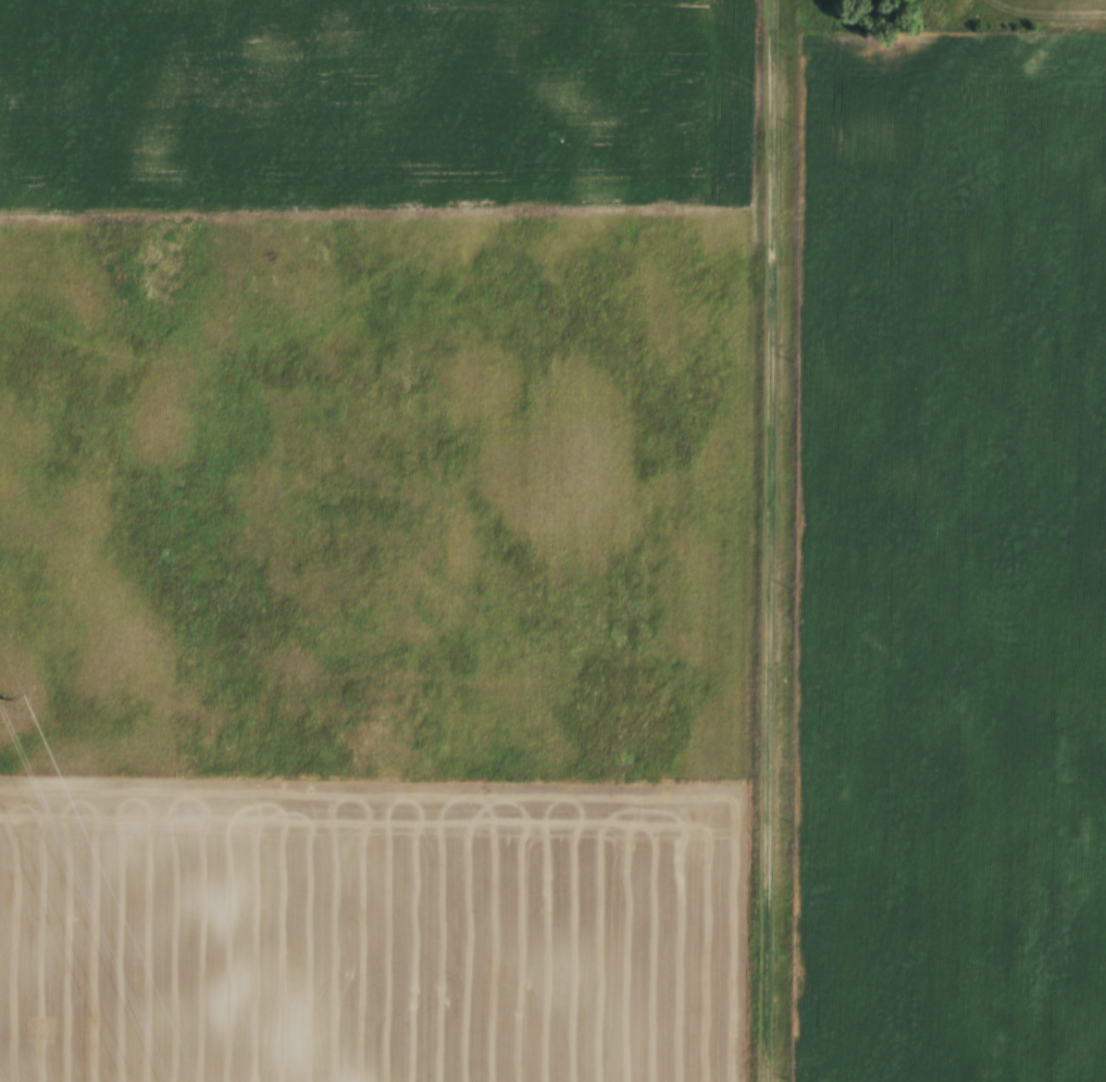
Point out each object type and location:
power tower: (7, 705)

